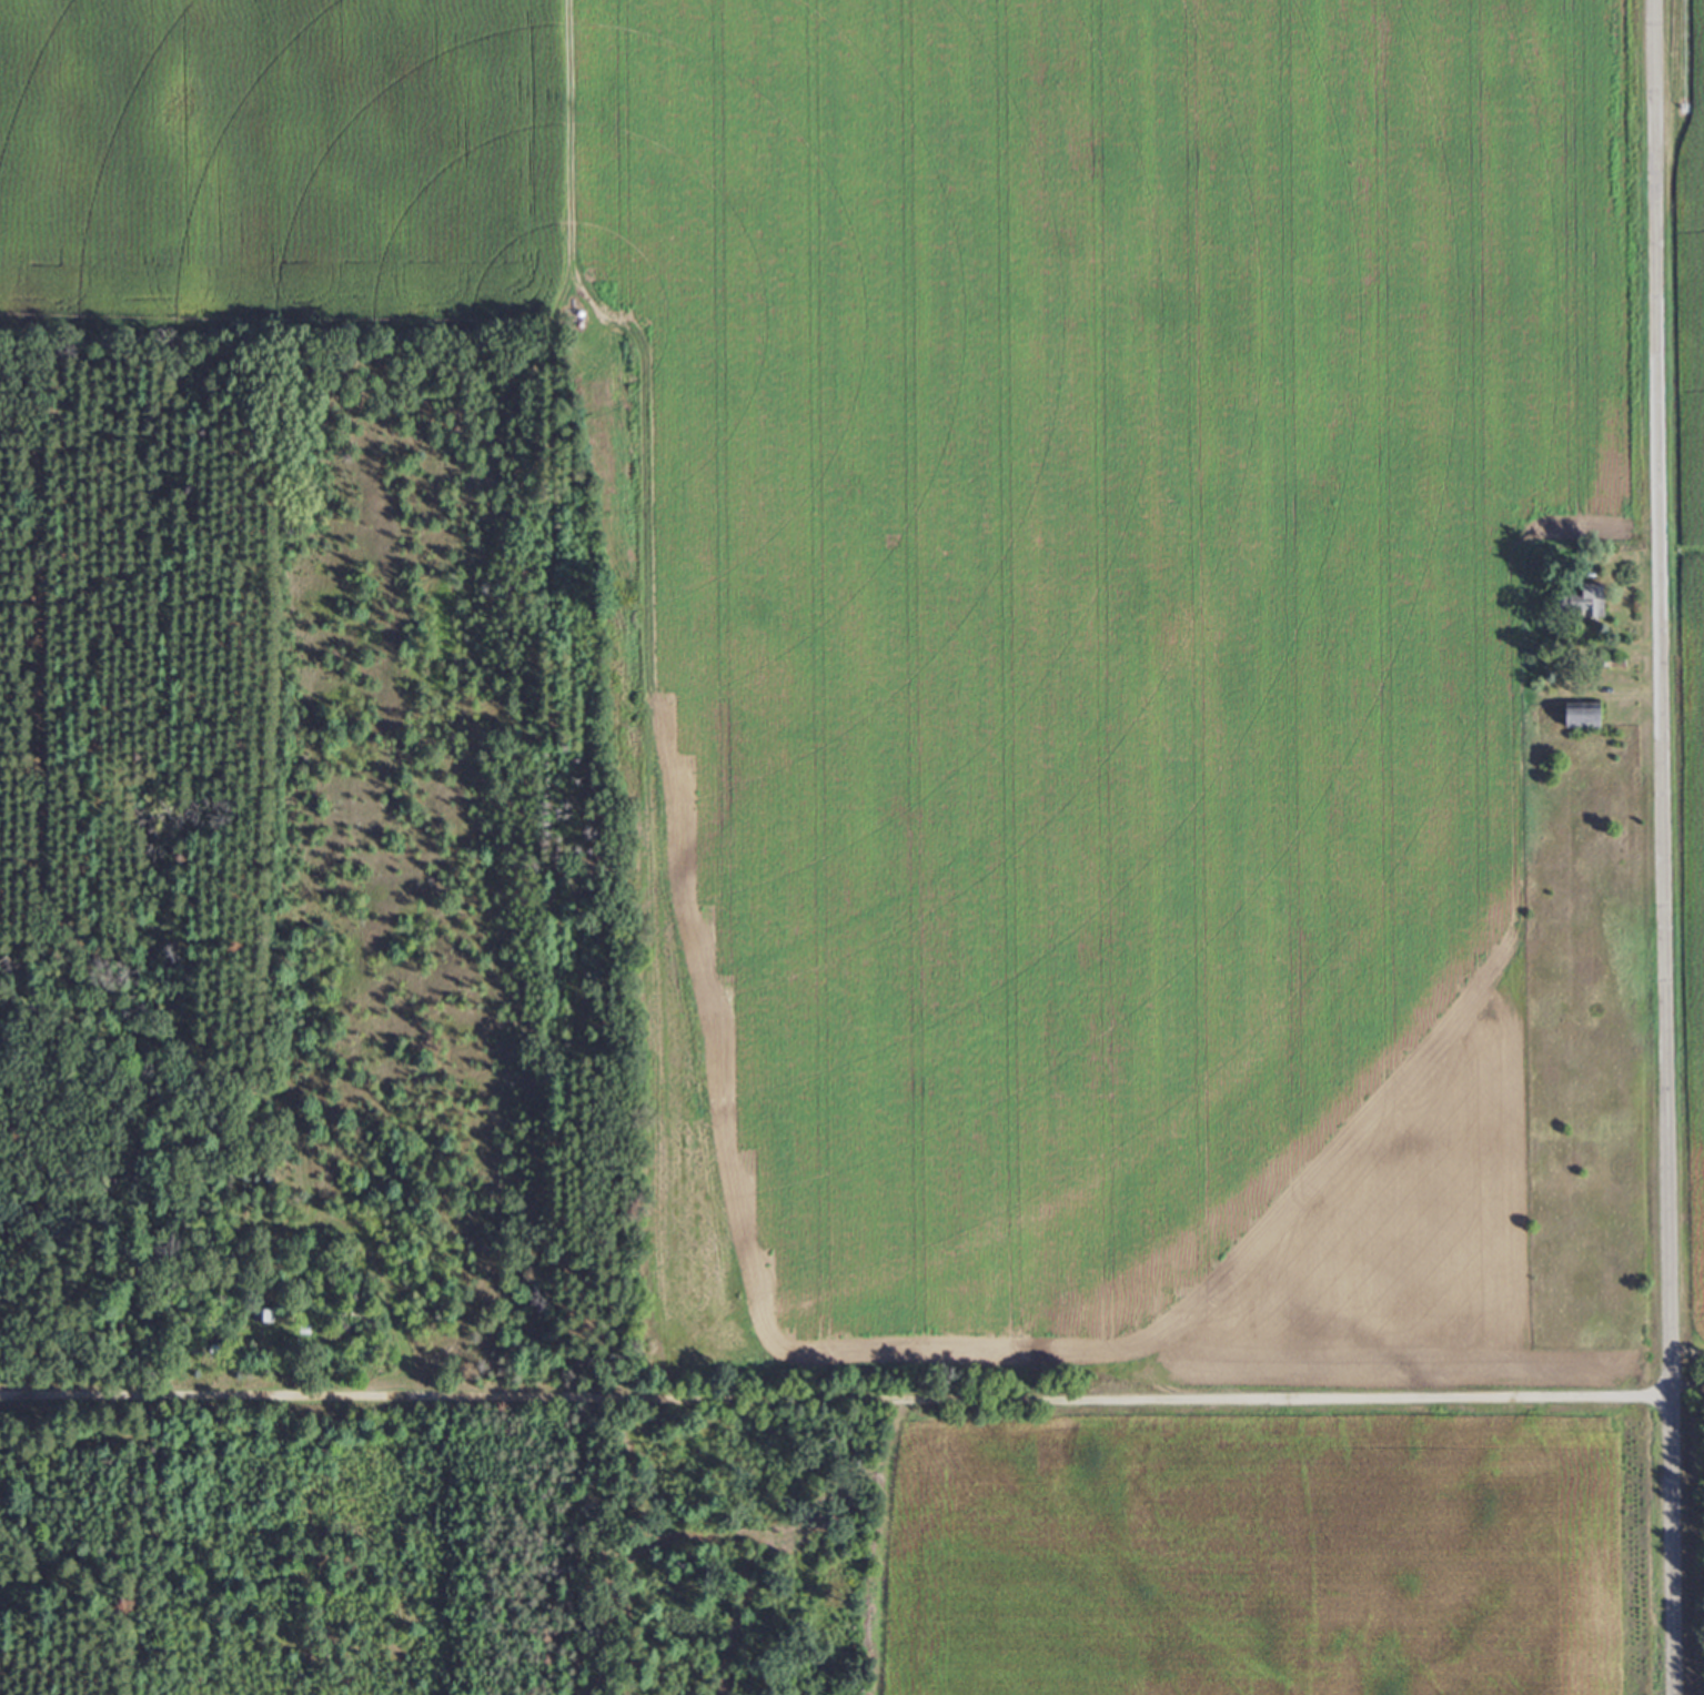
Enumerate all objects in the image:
building: (1592, 598)
building: (1583, 714)
road: (1668, 847)
road: (838, 1395)

